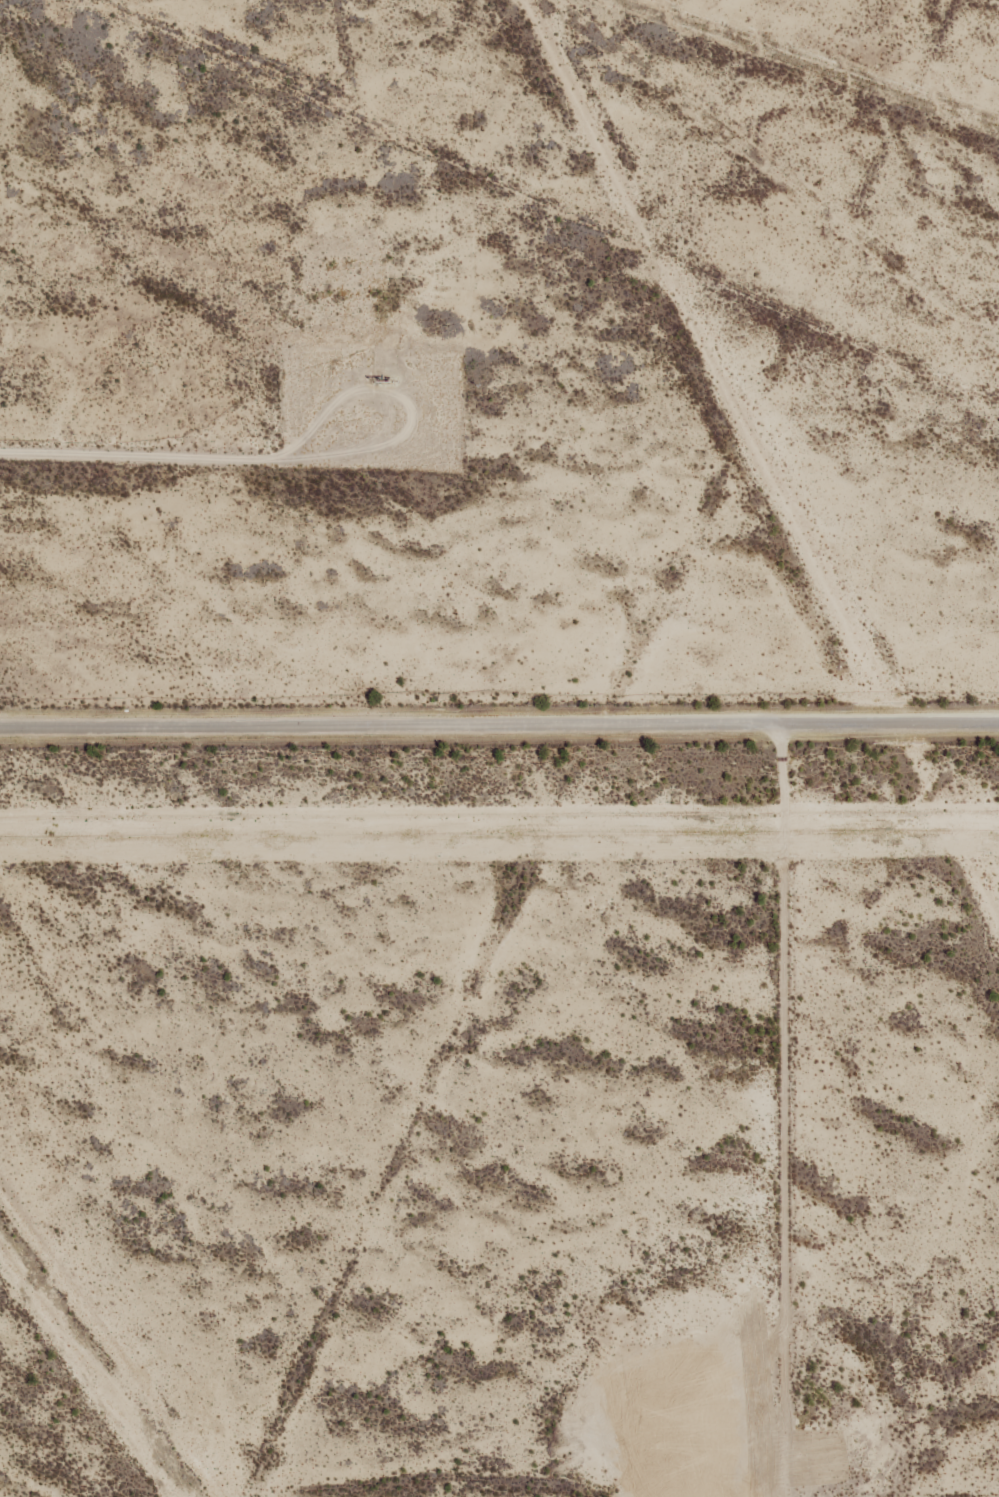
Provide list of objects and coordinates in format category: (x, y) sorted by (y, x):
road: (499, 712)
road: (780, 1077)

